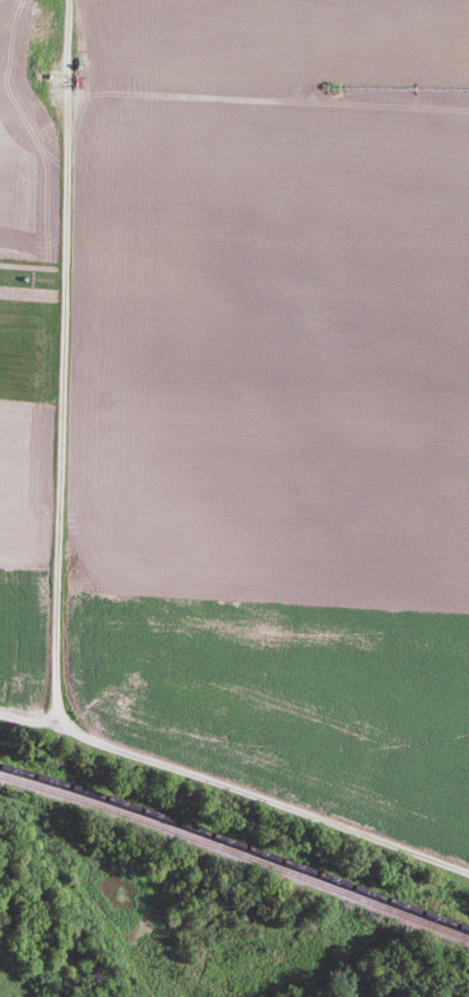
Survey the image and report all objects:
railway: (236, 842)
railway: (235, 852)

